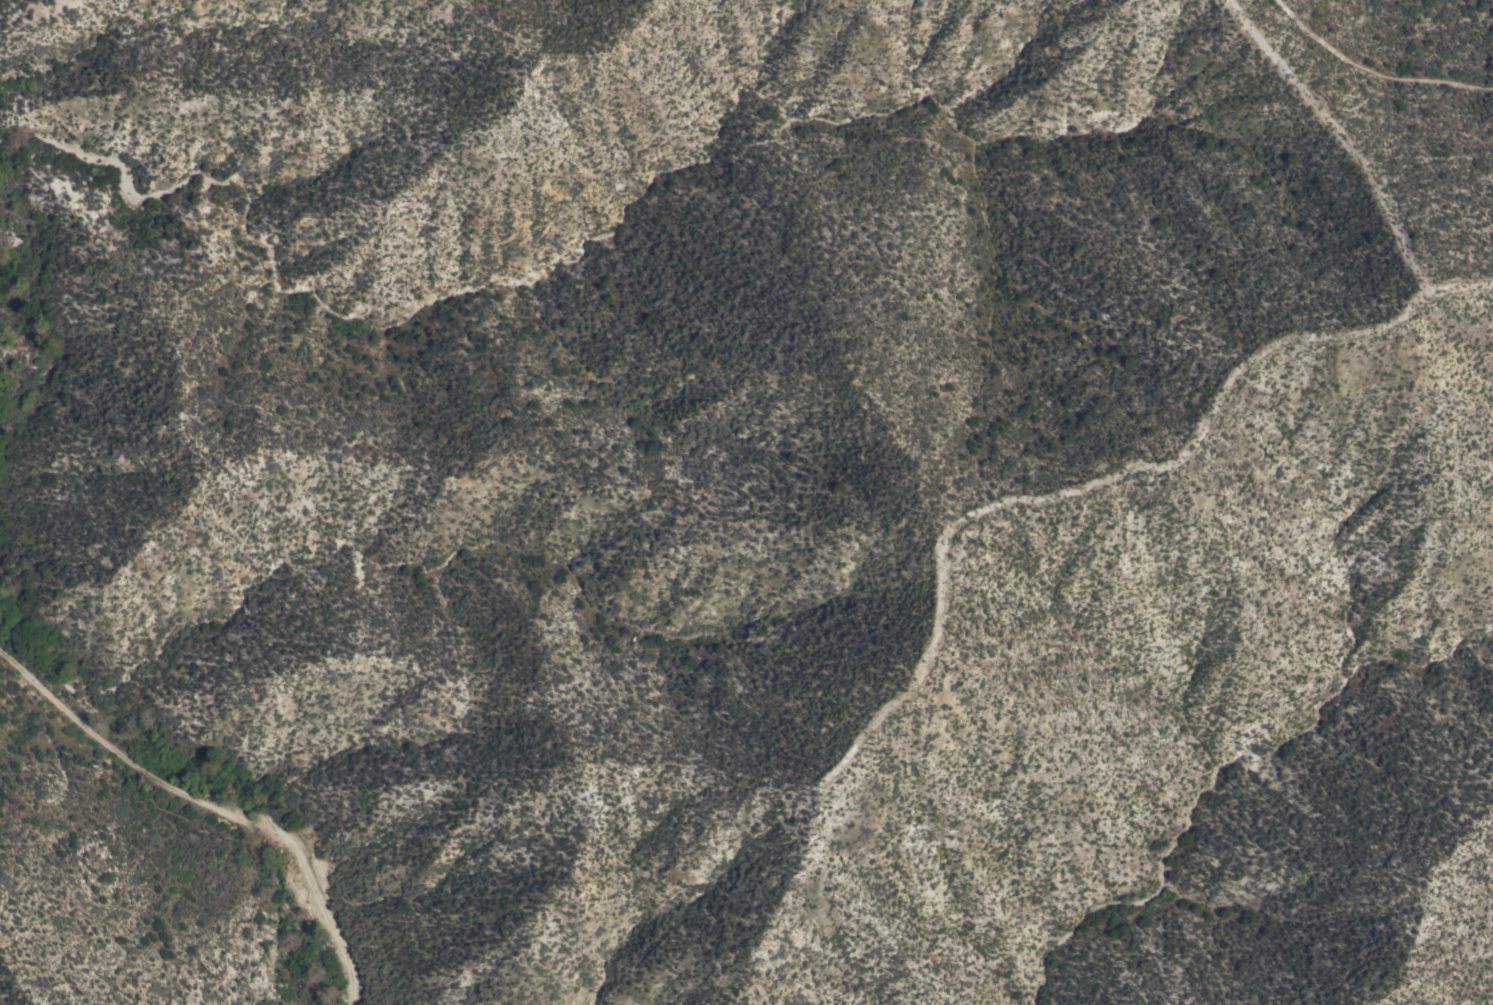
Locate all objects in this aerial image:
road: (1376, 67)
road: (214, 801)

